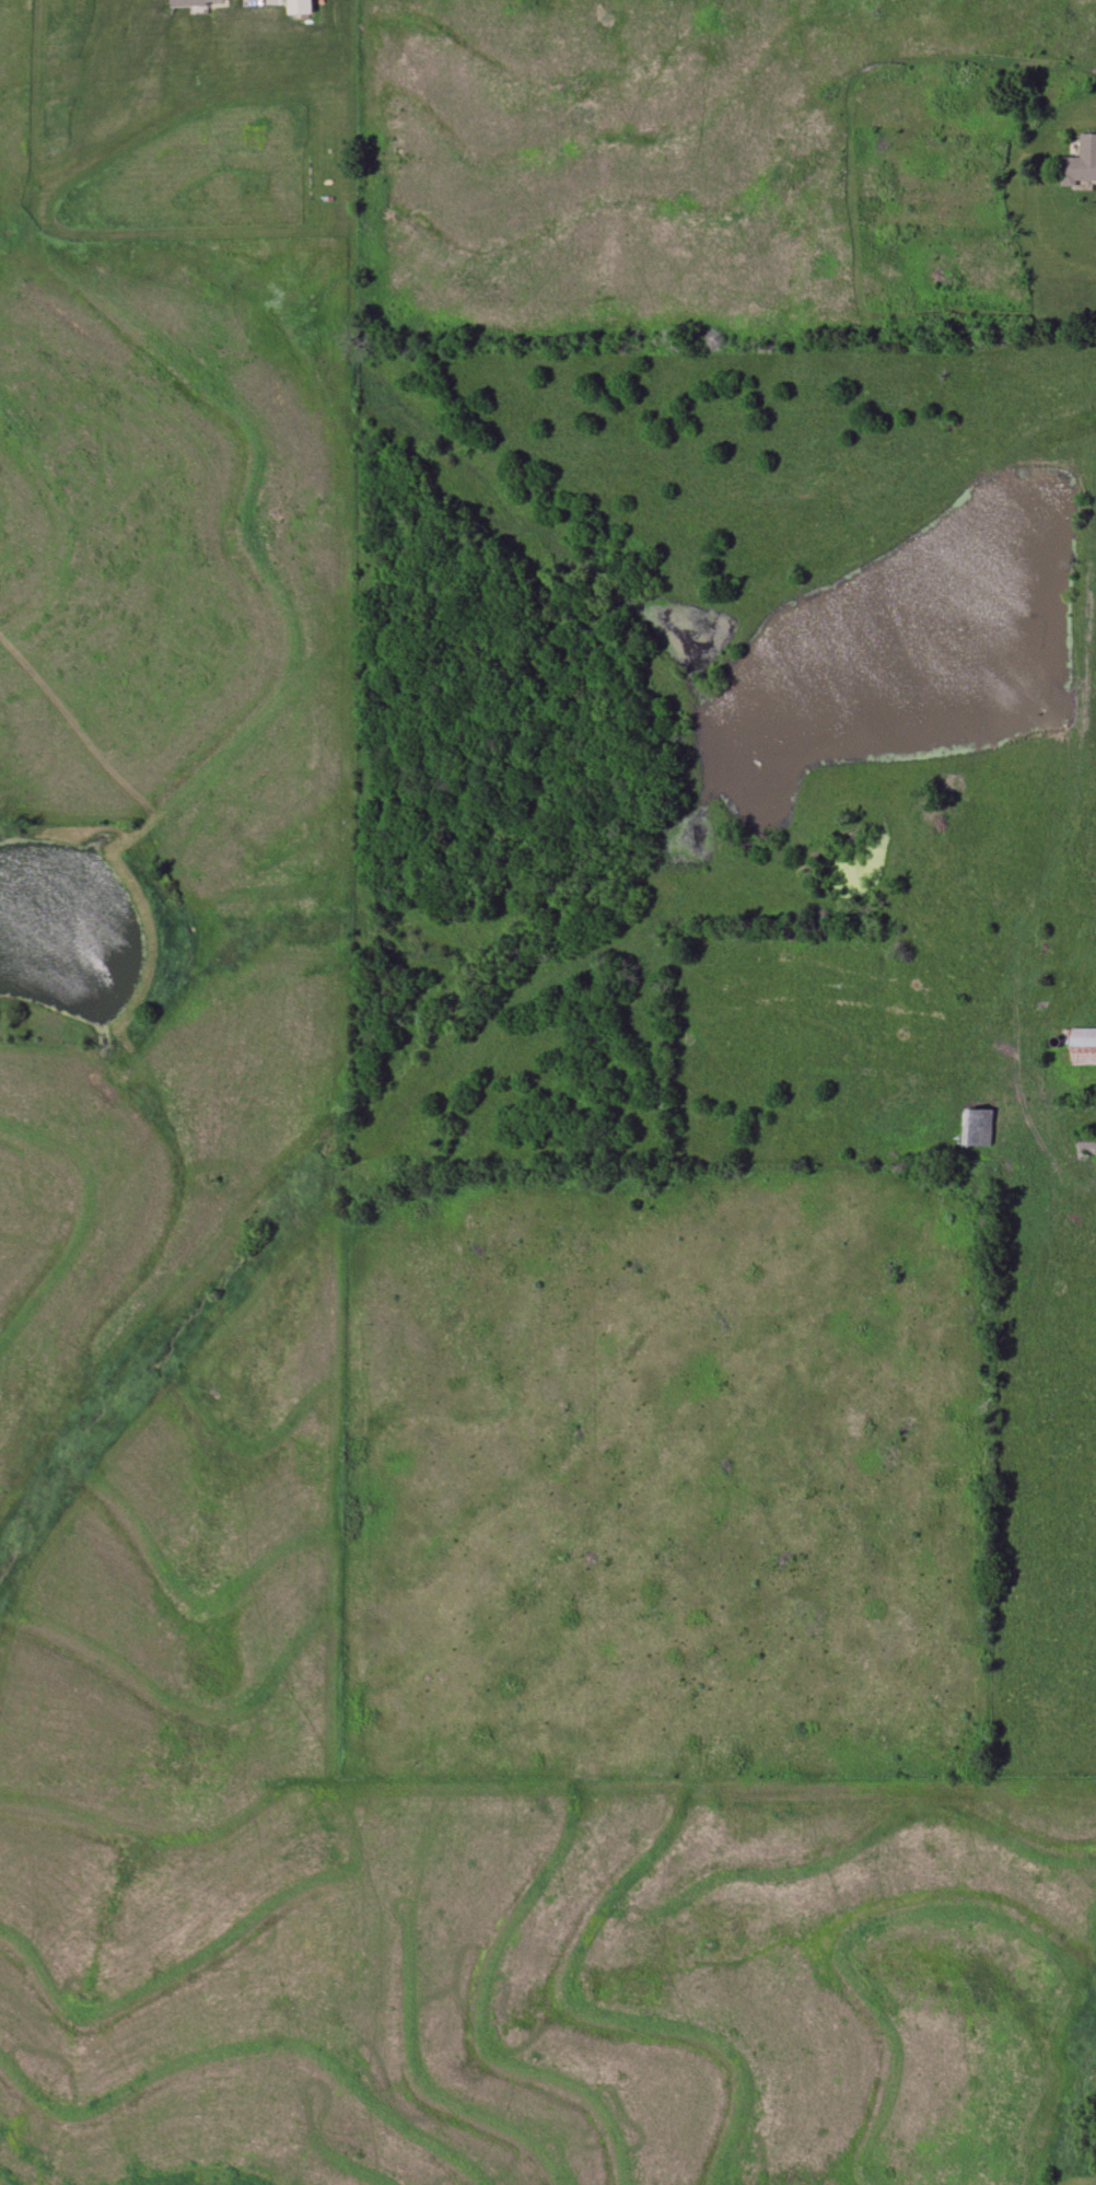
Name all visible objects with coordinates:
building: (197, 2)
building: (300, 7)
building: (1081, 162)
building: (1083, 1047)
building: (978, 1127)
building: (1086, 1144)

